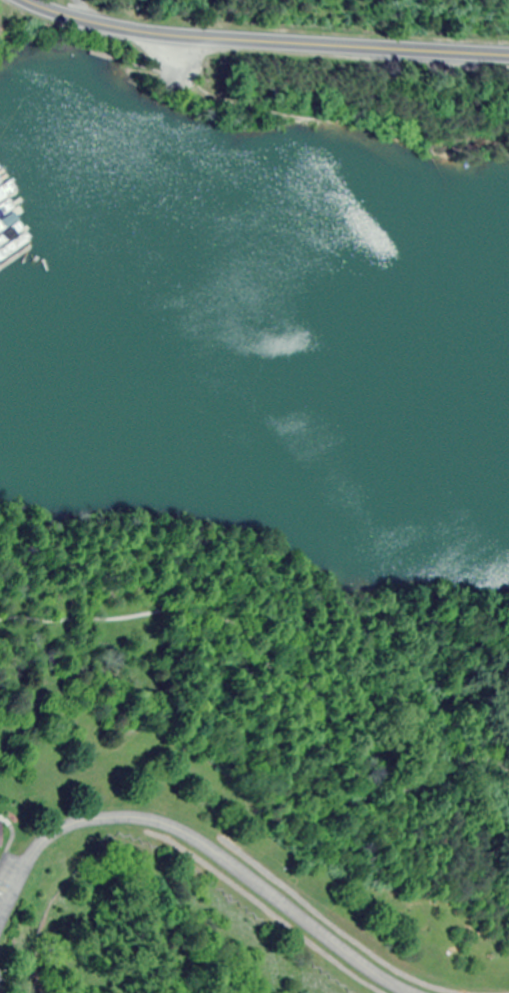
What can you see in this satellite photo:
road: (256, 43)
park: (302, 60)
park: (244, 769)
building: (0, 834)
road: (193, 848)
building: (247, 924)

